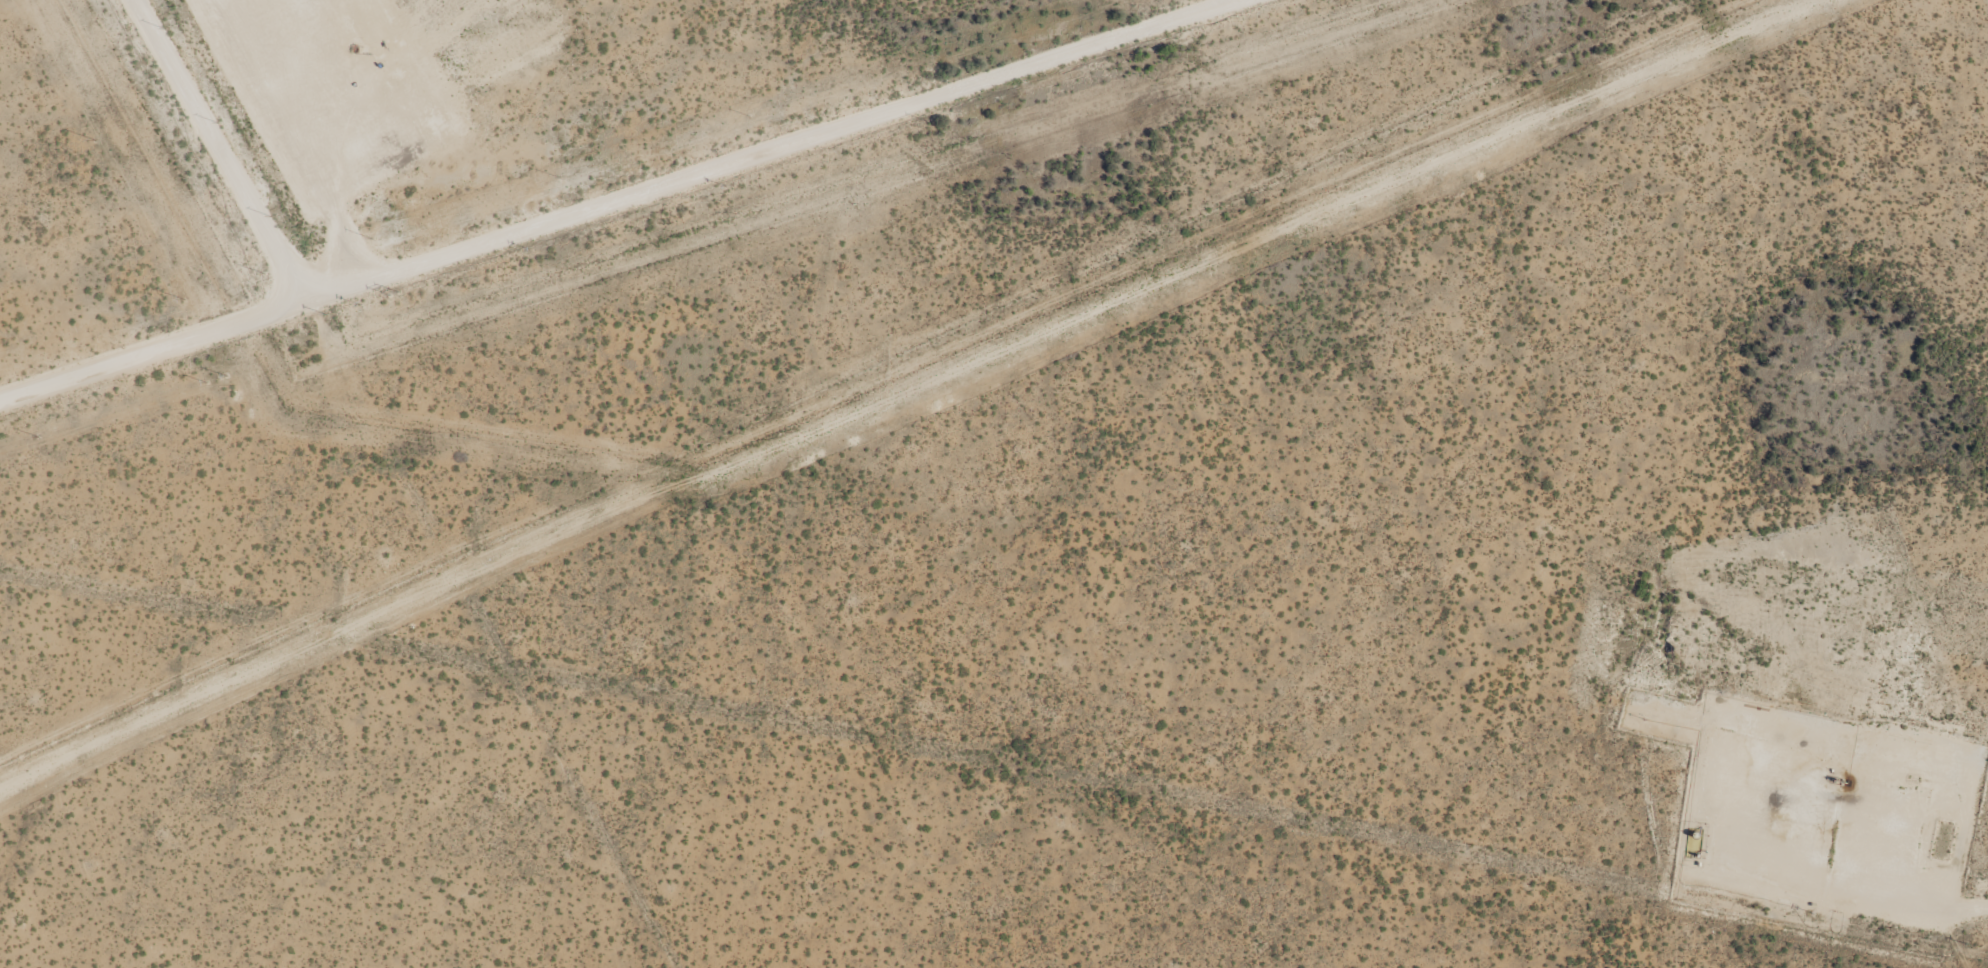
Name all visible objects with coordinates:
road: (339, 155)
road: (227, 175)
road: (692, 227)
road: (147, 352)
road: (959, 764)
road: (1965, 913)

